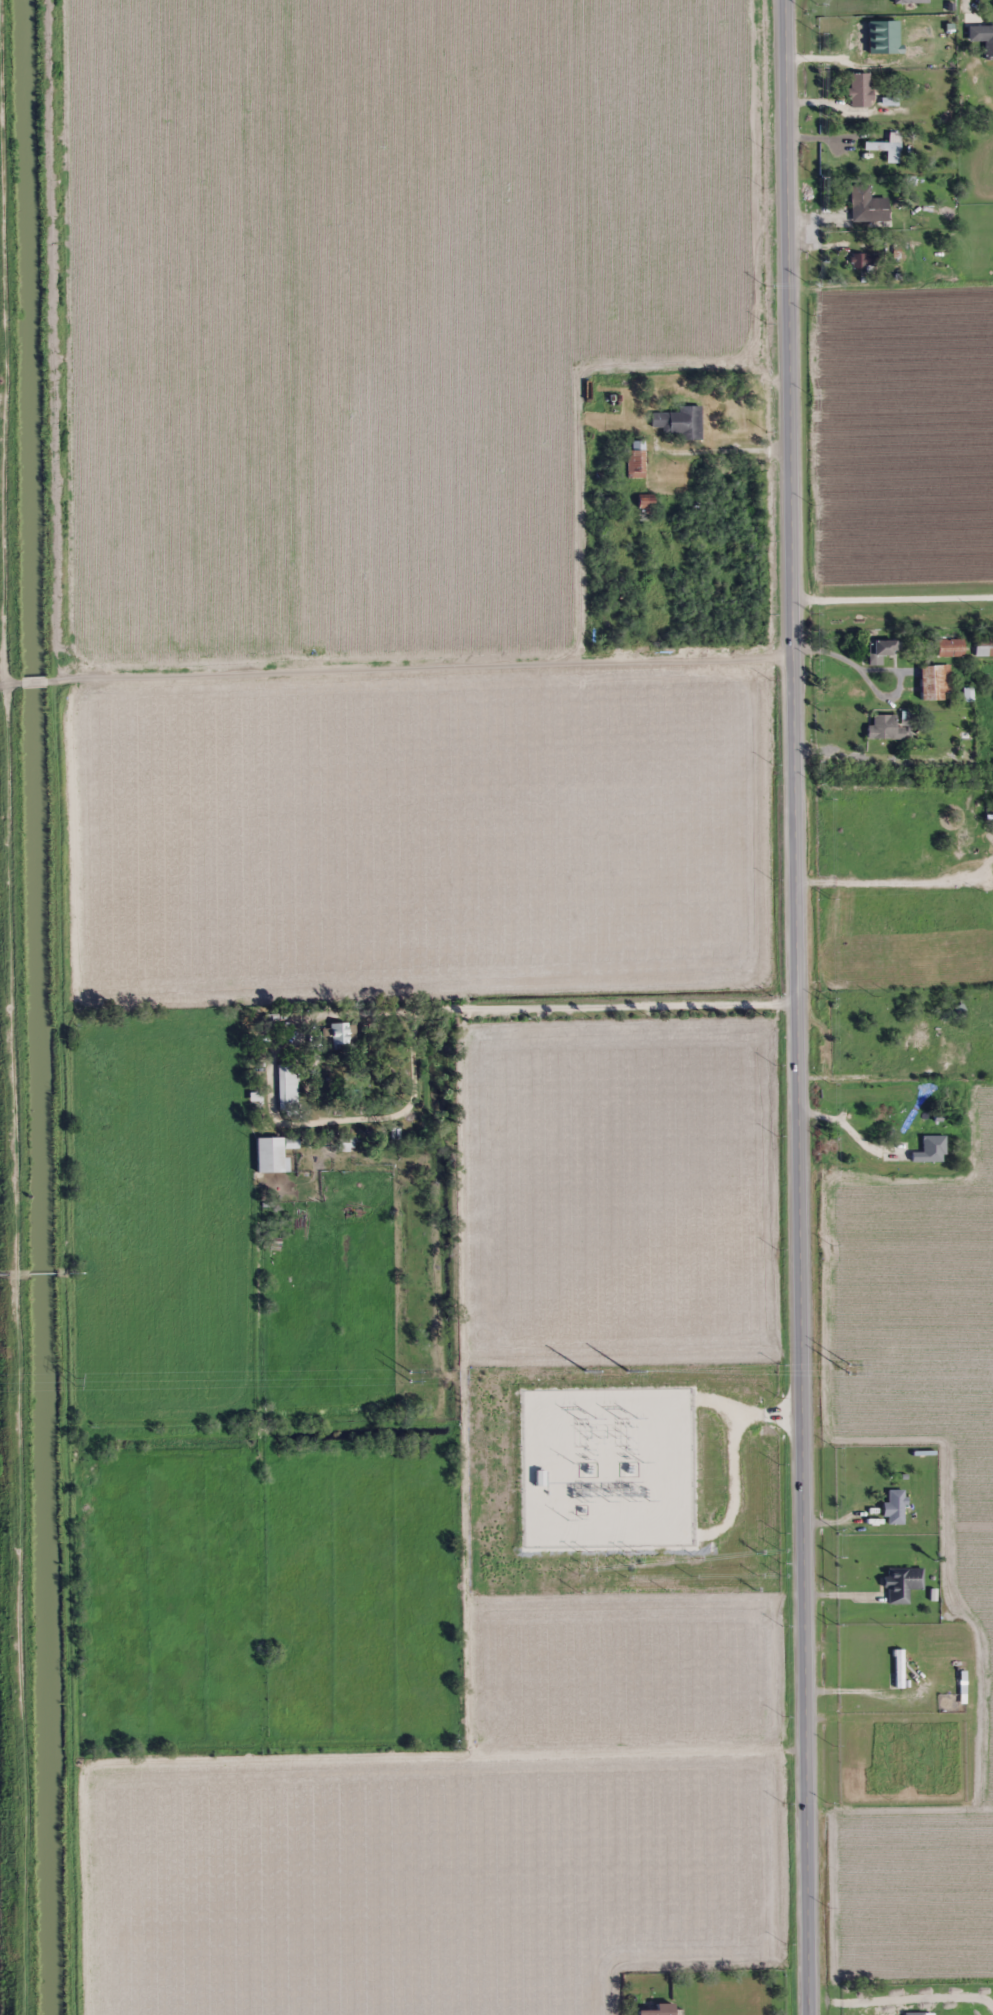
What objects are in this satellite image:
building: (910, 1)
building: (859, 42)
building: (988, 43)
building: (858, 90)
building: (885, 150)
building: (866, 205)
building: (860, 261)
road: (787, 329)
building: (682, 423)
building: (635, 461)
building: (644, 508)
road: (892, 585)
building: (983, 647)
building: (950, 648)
building: (880, 651)
road: (399, 664)
building: (934, 683)
road: (4, 684)
building: (884, 729)
building: (941, 732)
road: (566, 1000)
road: (11, 1007)
building: (339, 1036)
building: (287, 1087)
building: (929, 1150)
building: (270, 1156)
road: (799, 1337)
power tower: (768, 1371)
power tower: (425, 1376)
power tower: (73, 1381)
building: (894, 1507)
building: (902, 1584)
building: (898, 1669)
building: (659, 2010)
building: (913, 2013)

